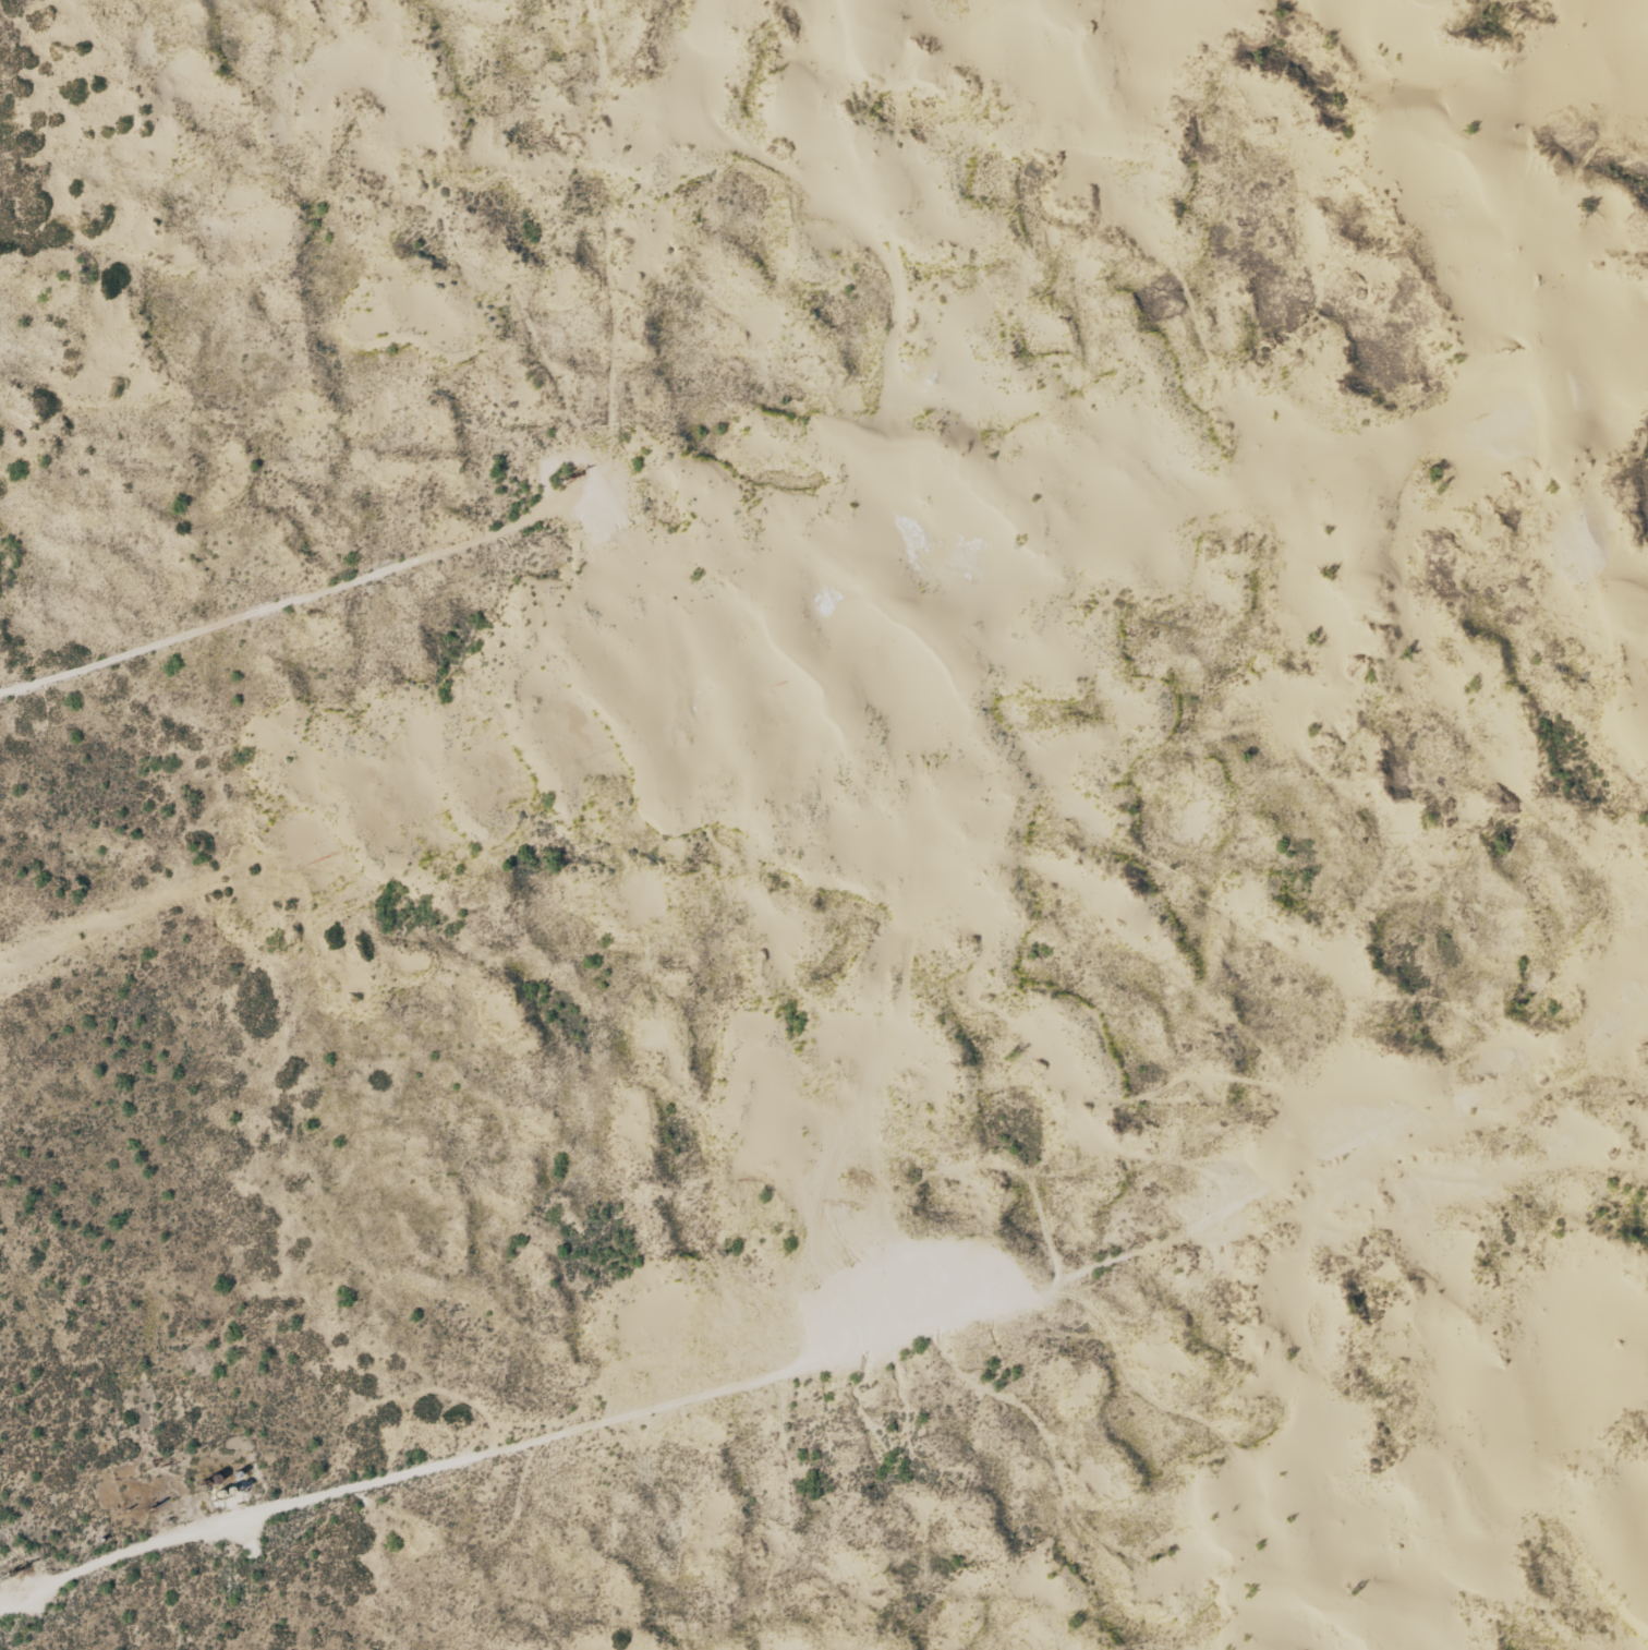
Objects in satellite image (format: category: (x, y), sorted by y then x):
road: (277, 621)

